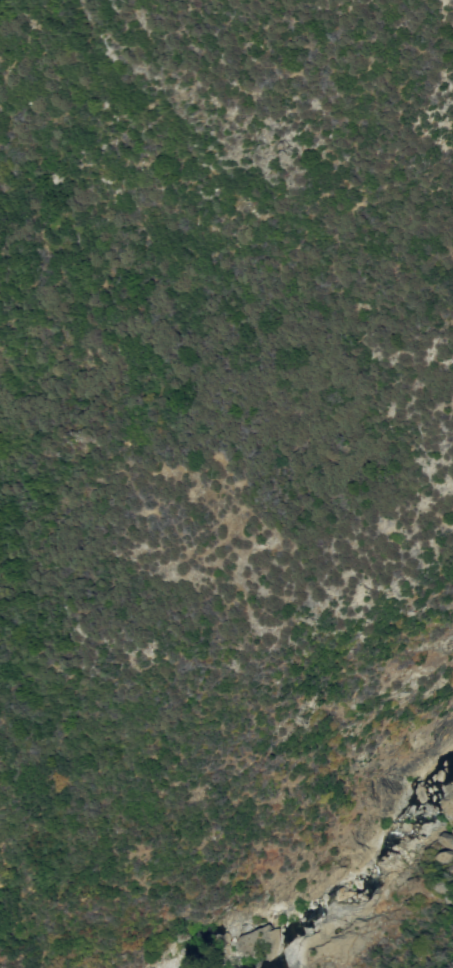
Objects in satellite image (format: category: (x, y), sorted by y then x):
river: (376, 883)

